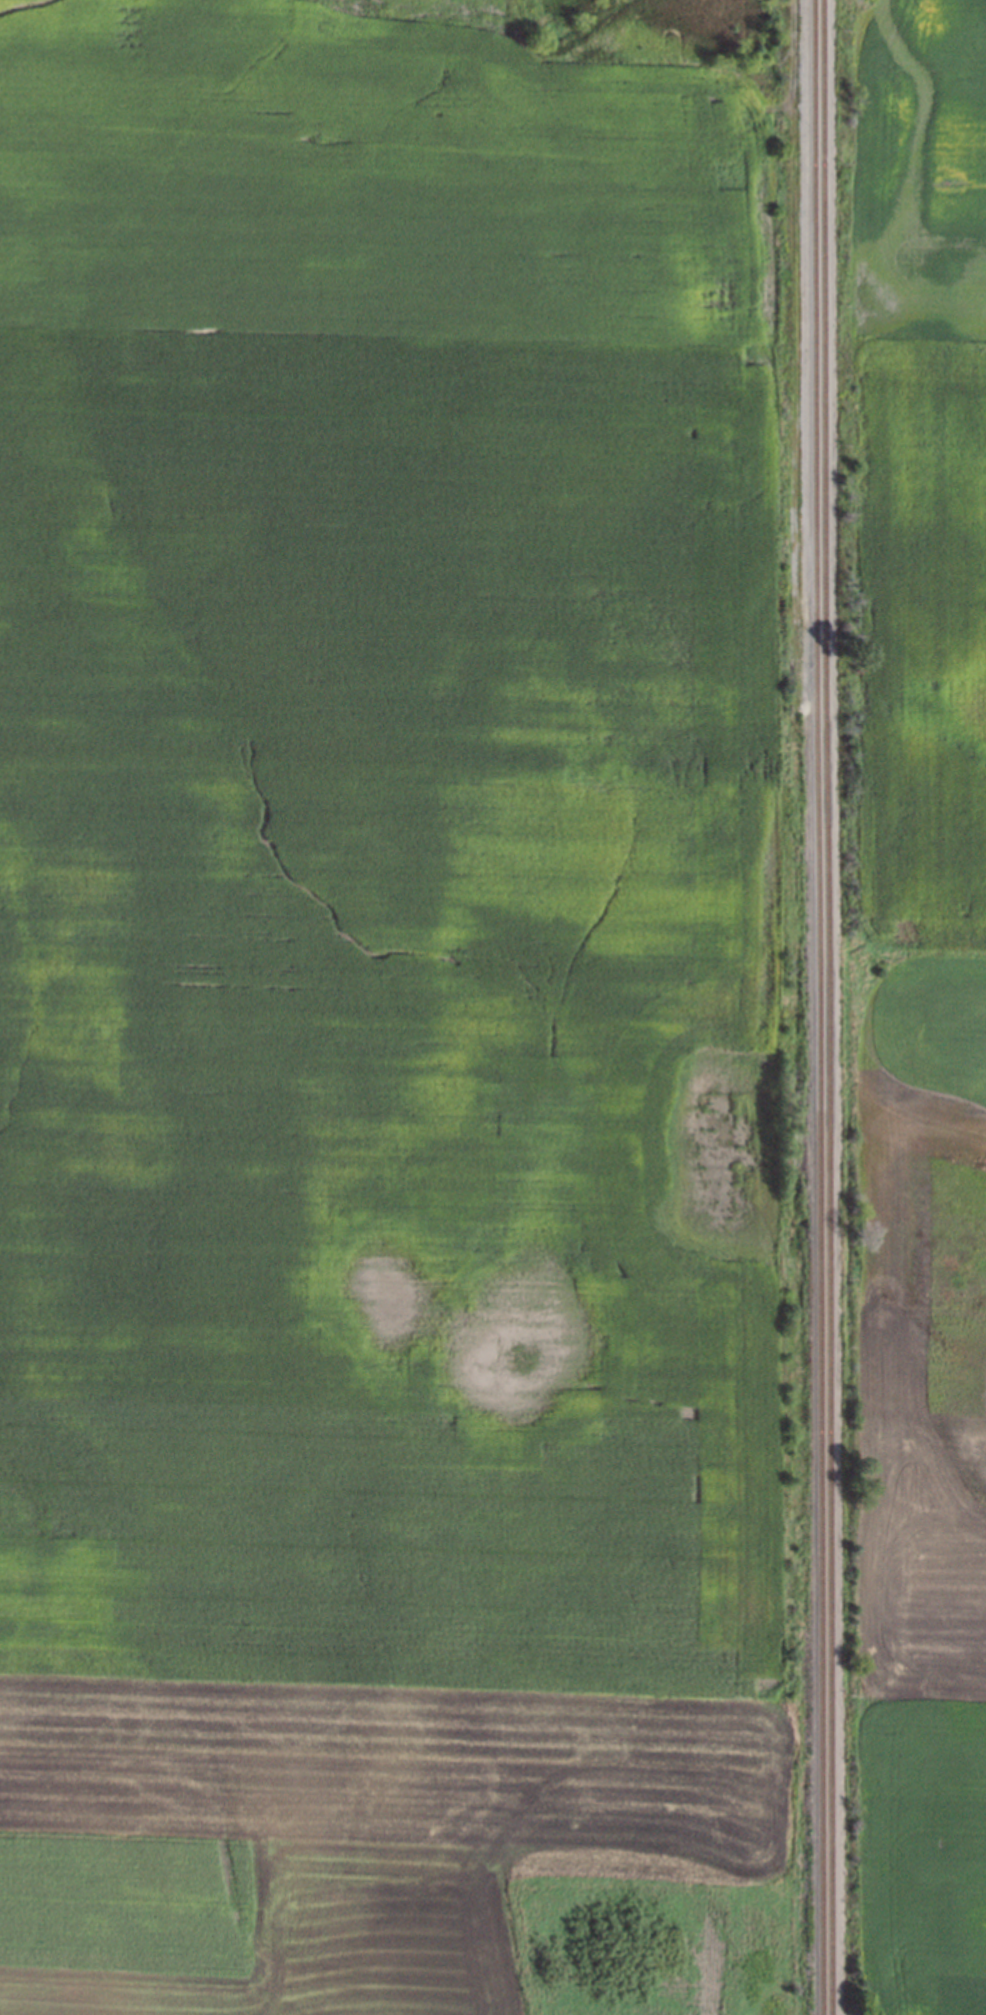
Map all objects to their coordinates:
railway: (817, 1007)
railway: (827, 1007)
crop: (921, 1015)

